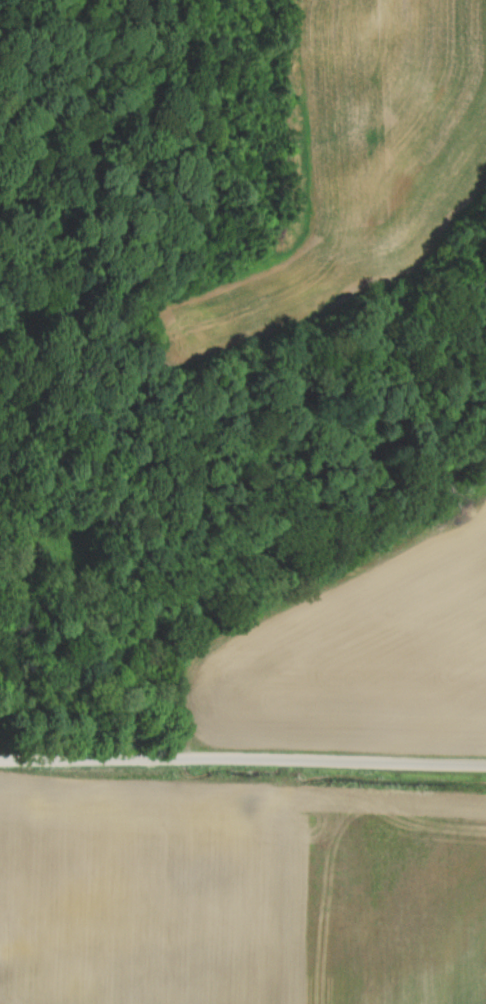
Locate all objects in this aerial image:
road: (243, 767)

